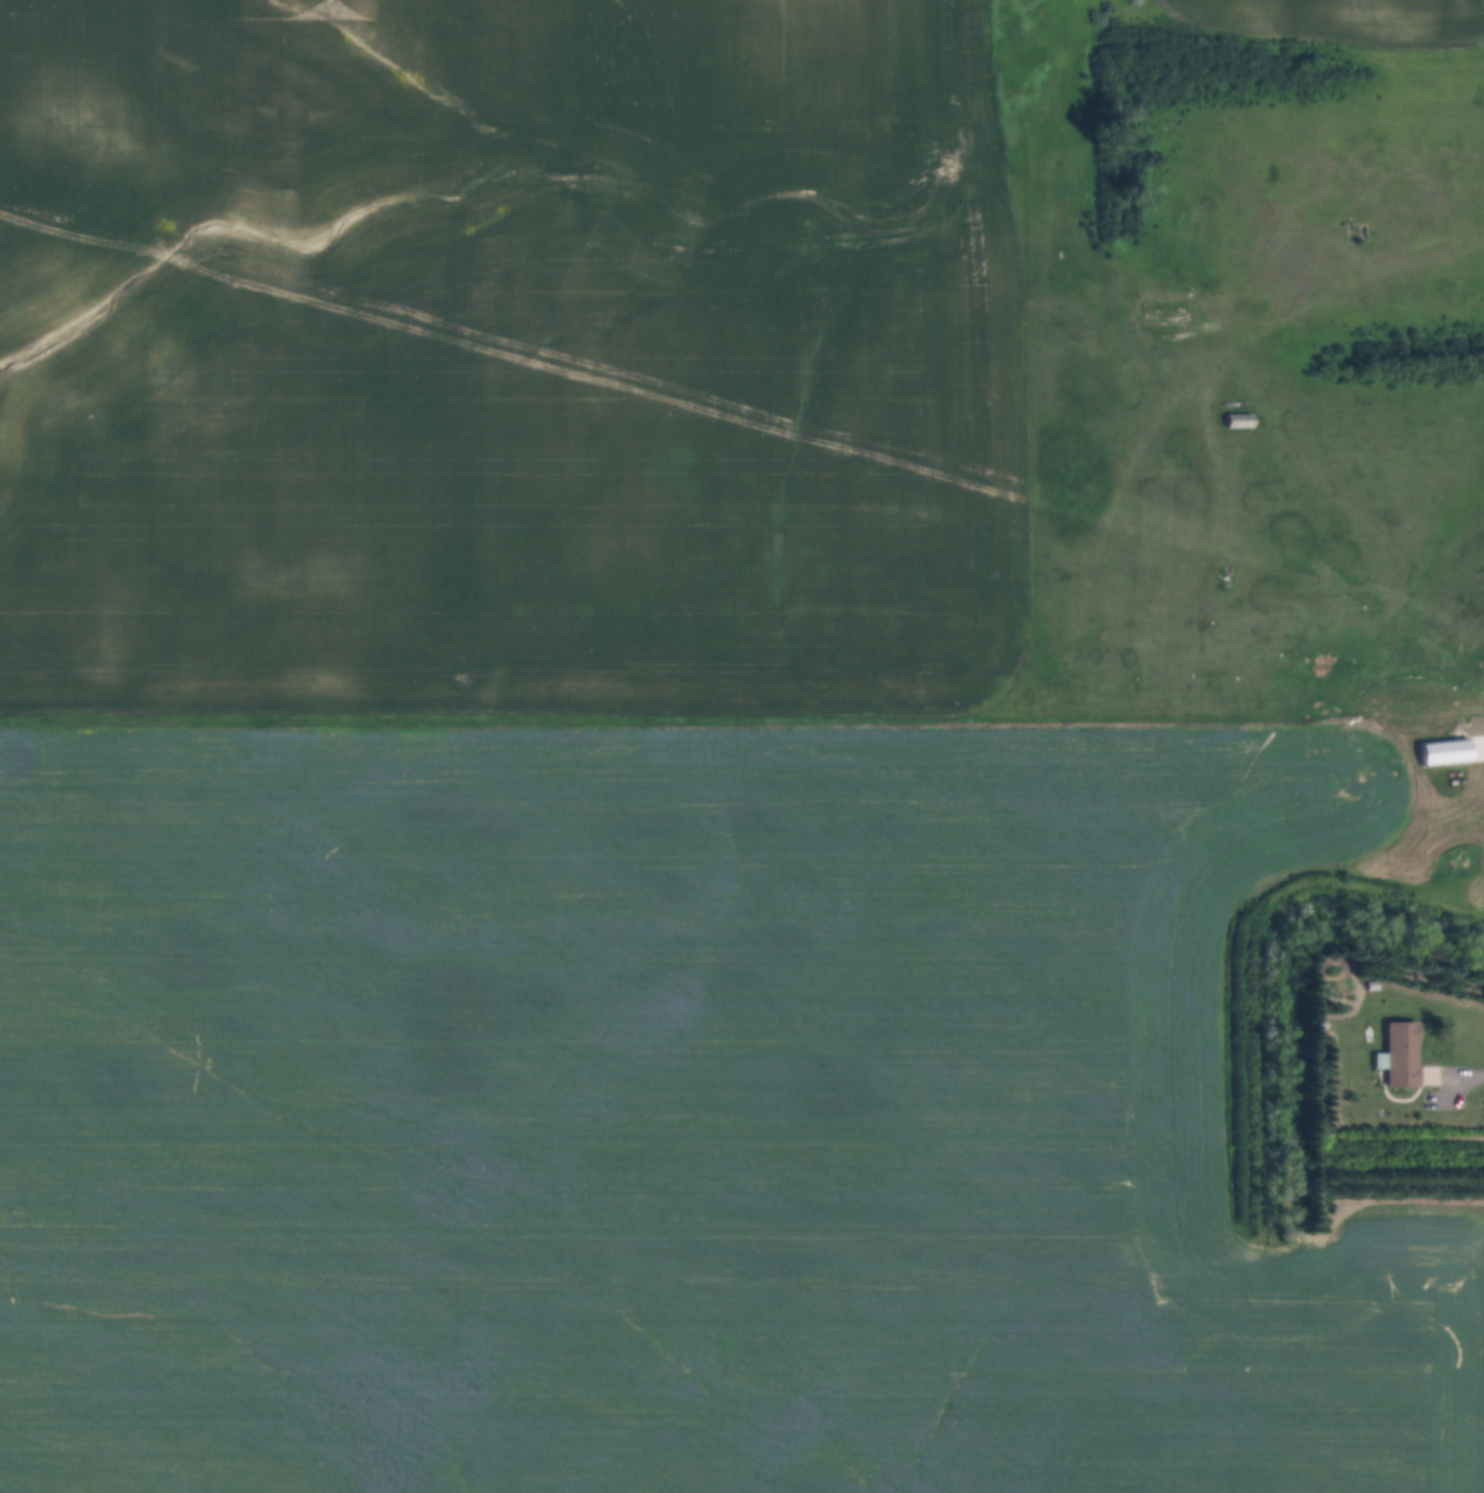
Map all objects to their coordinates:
building: (1240, 419)
building: (1401, 1053)
road: (1450, 1069)

